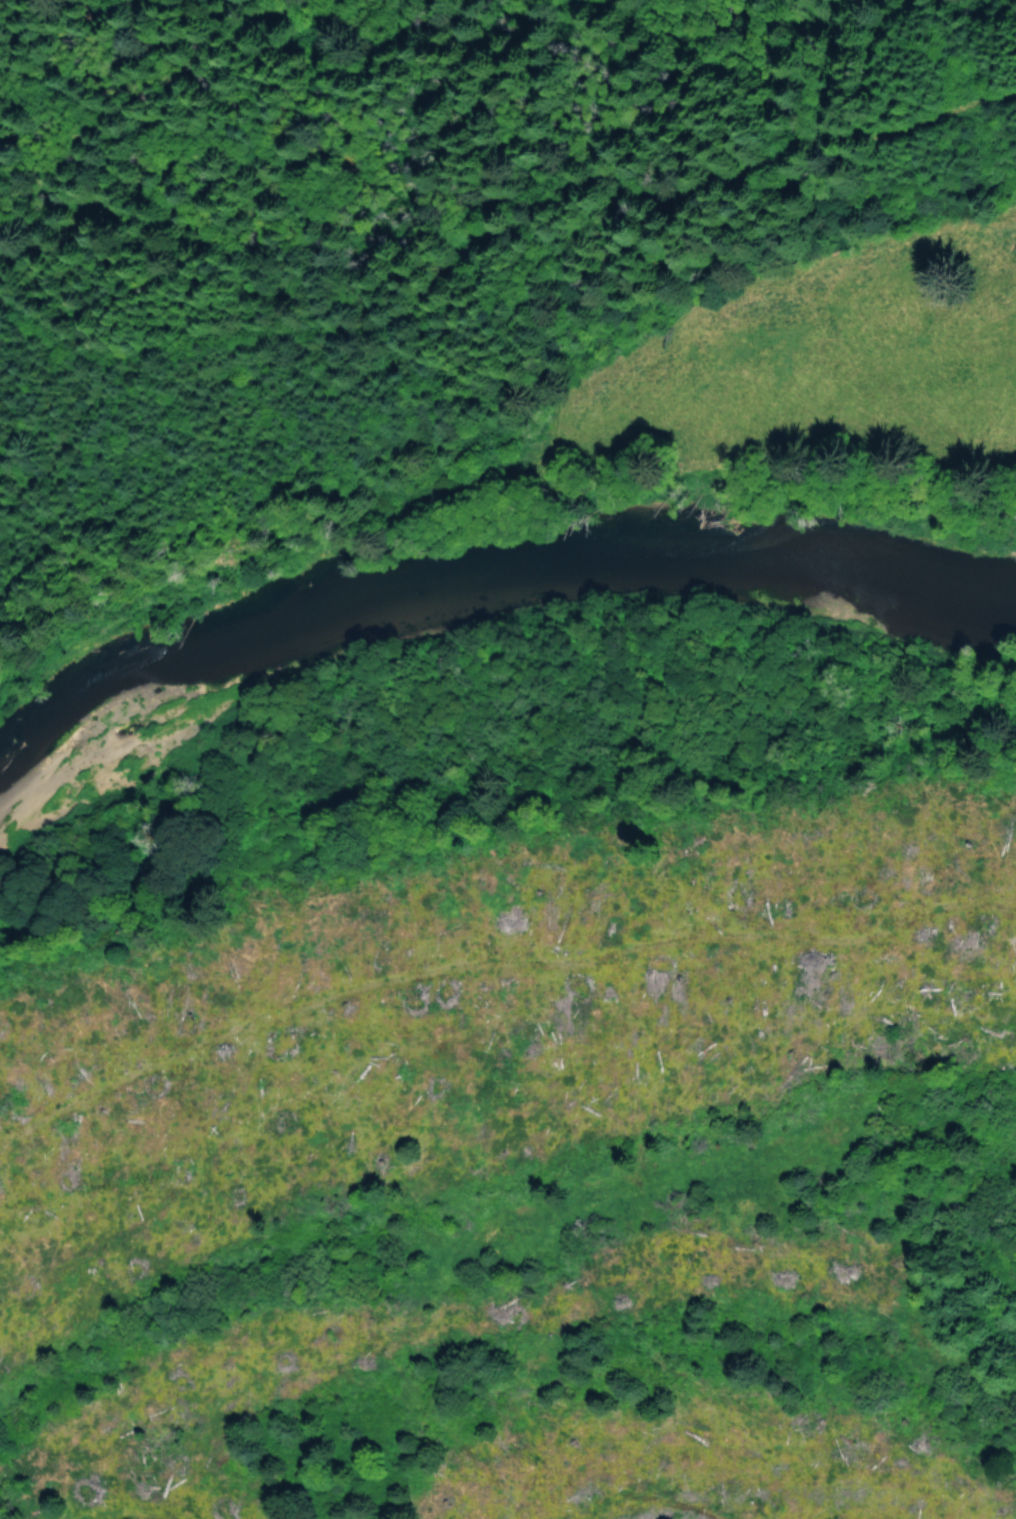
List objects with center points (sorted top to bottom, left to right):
crop: (823, 358)
river: (491, 583)

